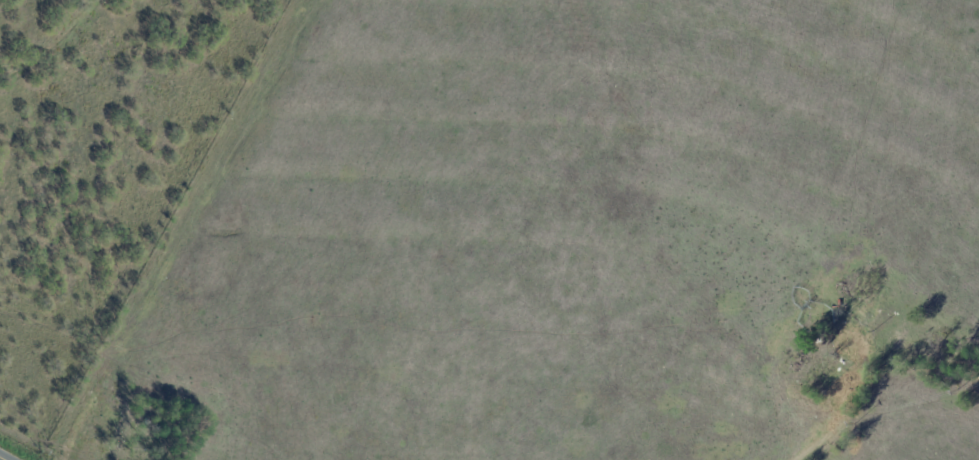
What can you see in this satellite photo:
building: (868, 294)
building: (834, 322)
building: (957, 354)
building: (813, 378)
road: (844, 417)
building: (141, 441)
road: (0, 459)

